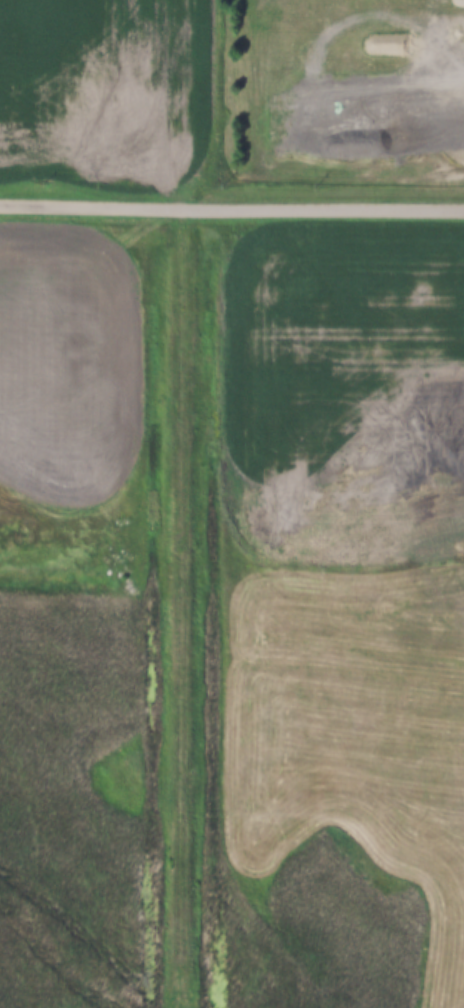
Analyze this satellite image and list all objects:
road: (439, 113)
road: (231, 207)

